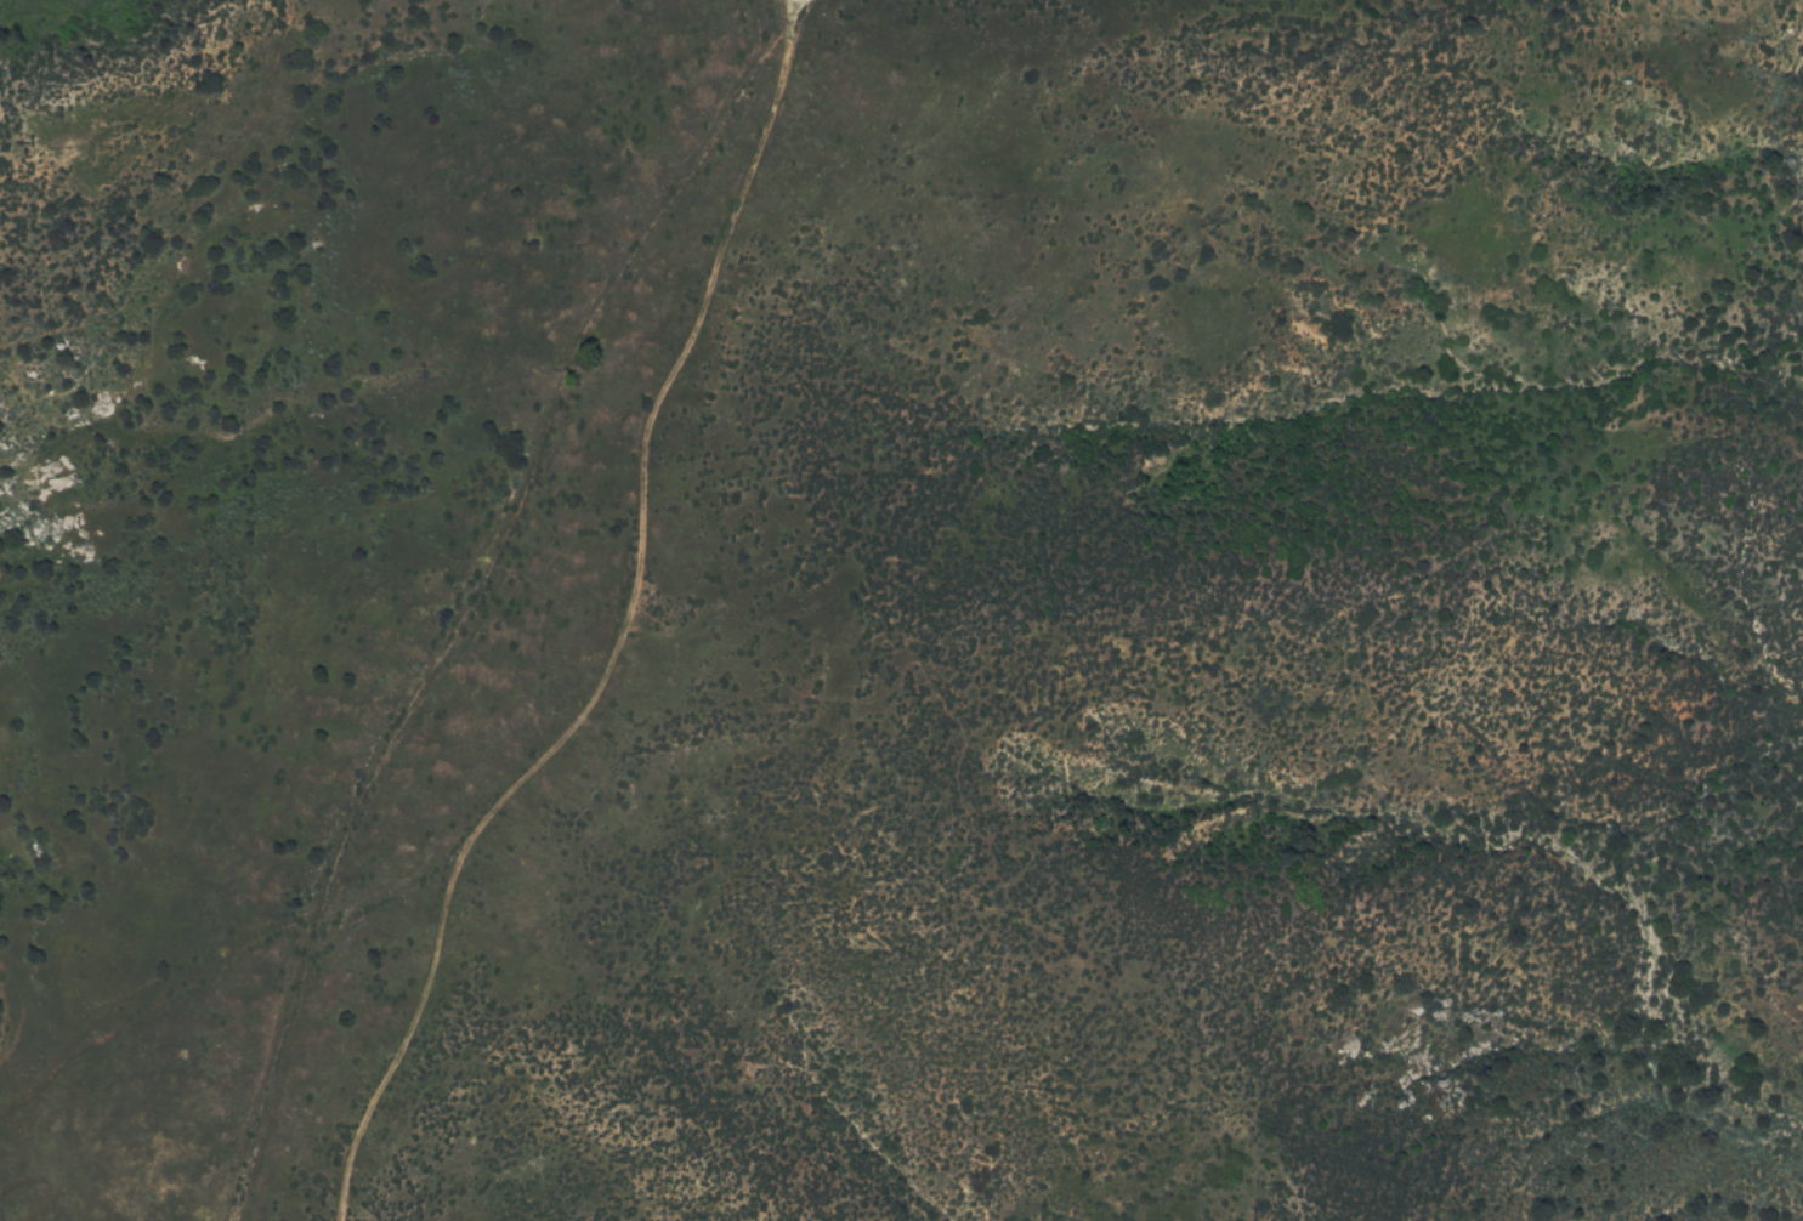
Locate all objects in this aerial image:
road: (476, 591)
road: (613, 642)

